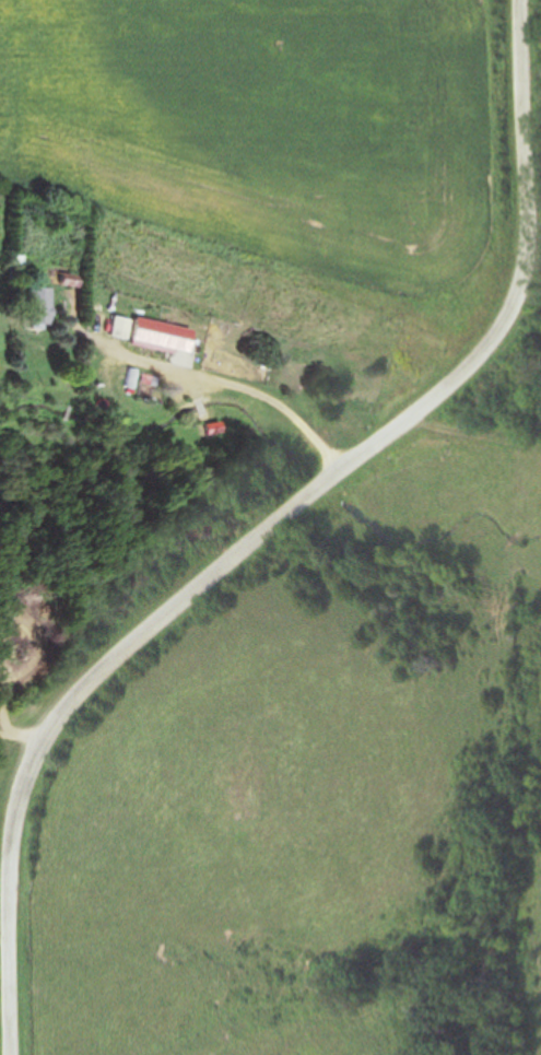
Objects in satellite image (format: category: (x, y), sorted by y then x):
building: (16, 272)
building: (73, 280)
building: (44, 307)
building: (125, 327)
building: (166, 336)
building: (35, 342)
road: (209, 377)
road: (267, 527)

